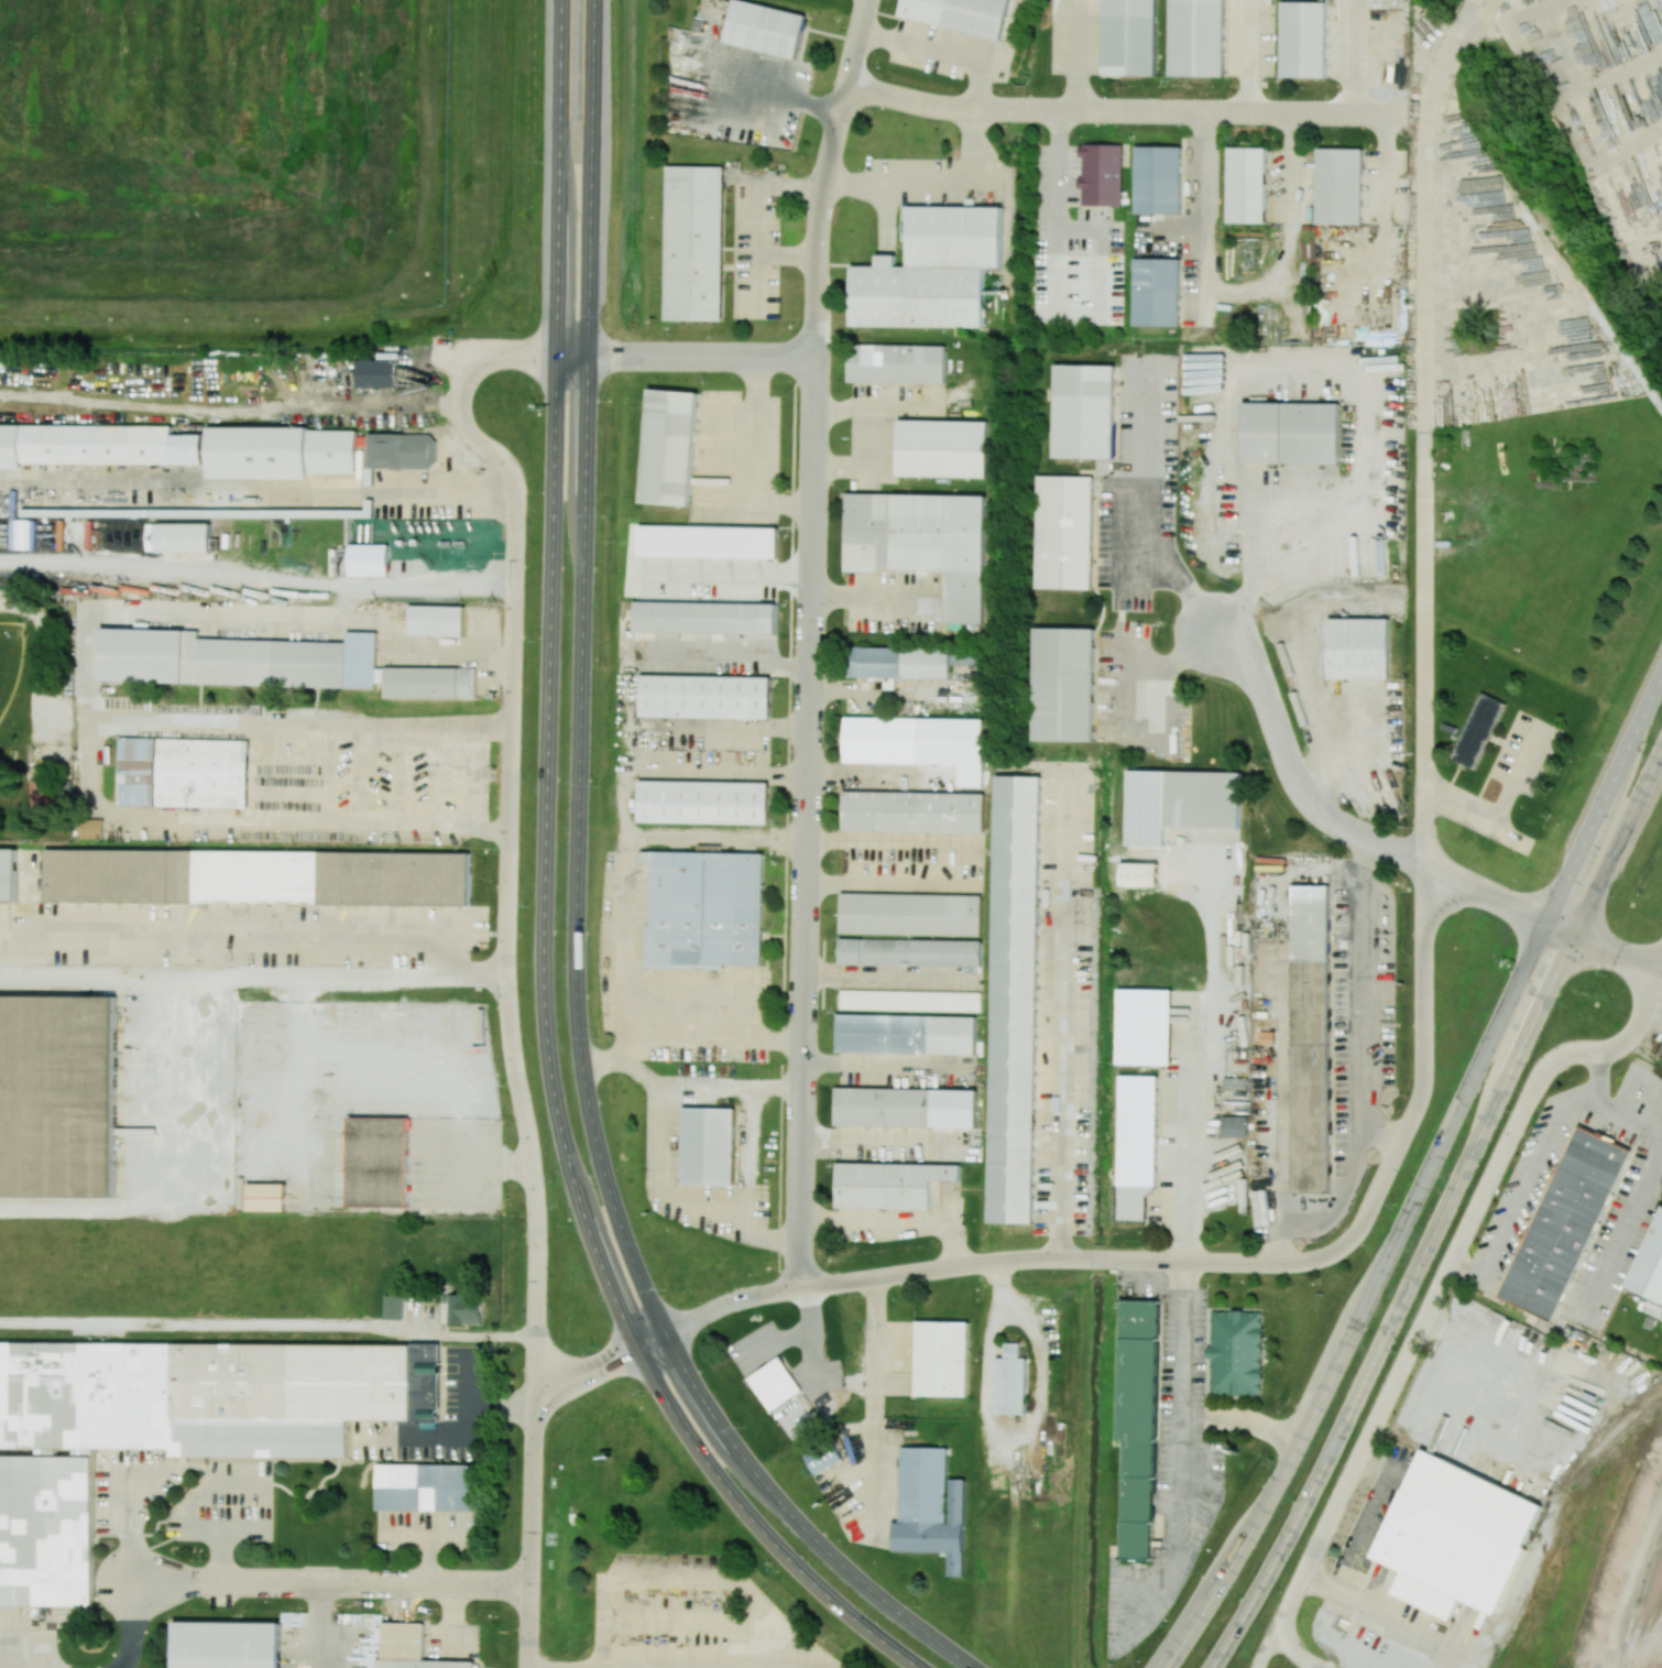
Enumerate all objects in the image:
building: (925, 11)
building: (766, 29)
building: (1133, 36)
building: (1199, 36)
building: (1308, 39)
road: (939, 54)
road: (1119, 110)
landfill: (266, 157)
building: (1101, 174)
building: (1159, 178)
building: (1248, 185)
building: (1342, 186)
road: (762, 219)
building: (696, 243)
building: (931, 270)
building: (1158, 292)
road: (1058, 298)
road: (686, 356)
building: (897, 363)
building: (378, 373)
road: (1425, 380)
building: (1084, 407)
building: (1293, 434)
building: (668, 443)
building: (98, 445)
building: (942, 448)
building: (398, 450)
road: (753, 453)
building: (260, 454)
road: (861, 467)
road: (255, 491)
road: (1138, 515)
building: (1064, 532)
building: (179, 537)
road: (1255, 538)
building: (707, 541)
building: (922, 542)
building: (370, 560)
road: (256, 575)
road: (874, 601)
road: (260, 615)
building: (704, 618)
building: (437, 619)
road: (811, 641)
building: (1360, 646)
road: (39, 655)
road: (724, 655)
building: (964, 656)
park: (9, 659)
building: (238, 659)
building: (875, 662)
building: (926, 663)
road: (1156, 665)
building: (429, 683)
building: (1064, 683)
building: (704, 695)
road: (56, 704)
building: (1477, 730)
building: (881, 739)
road: (89, 760)
road: (1292, 770)
road: (726, 771)
building: (203, 772)
building: (702, 802)
building: (1147, 806)
road: (627, 807)
building: (912, 811)
road: (1501, 815)
building: (90, 828)
road: (718, 839)
road: (506, 841)
road: (971, 865)
building: (8, 874)
building: (1138, 874)
building: (258, 876)
road: (543, 897)
road: (576, 904)
building: (704, 909)
building: (911, 914)
building: (1311, 923)
road: (1562, 928)
road: (254, 940)
building: (910, 952)
road: (1616, 953)
road: (1660, 968)
road: (1660, 972)
road: (151, 975)
road: (380, 977)
building: (910, 1000)
building: (1014, 1000)
road: (1060, 1016)
building: (1144, 1027)
building: (906, 1034)
road: (714, 1035)
road: (627, 1060)
road: (885, 1062)
road: (1595, 1081)
road: (394, 1084)
road: (162, 1088)
road: (777, 1090)
building: (57, 1098)
road: (667, 1099)
building: (904, 1108)
road: (1623, 1113)
building: (1234, 1126)
building: (1138, 1132)
building: (709, 1146)
building: (379, 1162)
road: (1185, 1165)
road: (1424, 1181)
building: (888, 1185)
building: (265, 1197)
road: (1519, 1198)
road: (1444, 1213)
road: (893, 1219)
building: (1565, 1228)
road: (1621, 1234)
road: (1180, 1256)
building: (1649, 1269)
road: (1437, 1293)
building: (393, 1306)
building: (463, 1308)
road: (805, 1309)
road: (294, 1329)
road: (775, 1344)
building: (1236, 1352)
building: (942, 1355)
road: (814, 1361)
building: (775, 1383)
building: (1012, 1383)
road: (846, 1387)
road: (872, 1407)
road: (1239, 1418)
building: (1138, 1424)
road: (1174, 1449)
building: (823, 1454)
building: (923, 1483)
building: (430, 1486)
railway: (1565, 1487)
building: (47, 1528)
building: (1461, 1533)
road: (531, 1548)
road: (334, 1584)
railway: (1637, 1595)
building: (1426, 1596)
railway: (1644, 1632)
building: (229, 1645)
road: (1268, 1645)
railway: (1656, 1661)
building: (425, 1664)
road: (673, 1666)
road: (1312, 1666)

